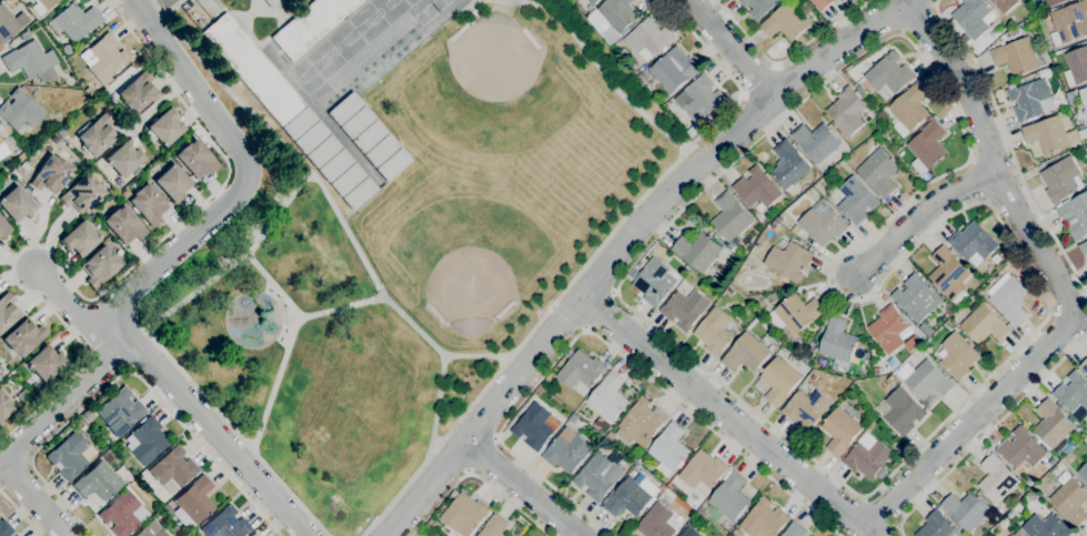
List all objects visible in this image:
building: (592, 1)
park: (412, 2)
building: (1051, 2)
building: (271, 3)
building: (821, 3)
building: (1003, 4)
building: (43, 6)
road: (150, 6)
building: (757, 7)
building: (616, 14)
park: (376, 17)
building: (973, 17)
building: (786, 21)
building: (1010, 21)
building: (76, 22)
building: (1069, 22)
building: (7, 24)
building: (311, 26)
building: (1013, 32)
building: (26, 36)
building: (647, 38)
building: (1086, 40)
road: (728, 47)
road: (835, 48)
park: (335, 50)
building: (976, 50)
building: (1017, 55)
road: (784, 58)
building: (103, 59)
building: (31, 62)
park: (492, 62)
building: (1076, 67)
building: (673, 69)
building: (253, 70)
building: (888, 73)
park: (304, 77)
building: (117, 81)
building: (858, 88)
building: (138, 93)
building: (1084, 97)
building: (698, 98)
building: (1030, 100)
building: (344, 109)
building: (908, 109)
building: (846, 110)
building: (20, 111)
building: (882, 113)
building: (356, 123)
building: (299, 124)
building: (165, 128)
building: (6, 129)
building: (692, 131)
building: (885, 134)
building: (1049, 134)
building: (97, 135)
building: (369, 136)
building: (311, 138)
building: (815, 141)
building: (1, 142)
building: (926, 146)
road: (1009, 146)
building: (2, 150)
building: (381, 151)
building: (323, 152)
building: (124, 160)
building: (197, 160)
building: (788, 164)
building: (393, 165)
building: (335, 166)
building: (844, 166)
building: (822, 169)
building: (878, 172)
building: (50, 175)
road: (661, 175)
road: (245, 176)
building: (1060, 179)
building: (348, 180)
building: (172, 183)
building: (756, 188)
building: (819, 190)
building: (360, 193)
building: (81, 194)
road: (326, 195)
building: (854, 200)
building: (17, 204)
building: (149, 204)
building: (759, 208)
building: (1075, 215)
building: (729, 216)
road: (916, 219)
building: (822, 223)
building: (774, 224)
building: (124, 225)
building: (3, 229)
building: (795, 230)
building: (80, 239)
building: (973, 243)
building: (1083, 247)
building: (733, 249)
building: (696, 251)
building: (667, 253)
building: (995, 257)
building: (1014, 260)
building: (788, 261)
road: (896, 264)
building: (100, 266)
road: (227, 266)
building: (948, 274)
building: (652, 282)
park: (467, 283)
road: (273, 285)
road: (1056, 285)
road: (105, 290)
building: (729, 291)
road: (612, 292)
building: (916, 297)
building: (1008, 297)
road: (551, 305)
road: (595, 307)
building: (684, 307)
road: (570, 309)
building: (949, 309)
building: (8, 312)
road: (74, 312)
building: (794, 314)
road: (567, 316)
building: (958, 316)
building: (984, 324)
building: (948, 325)
road: (583, 327)
building: (926, 327)
building: (890, 331)
building: (713, 332)
building: (24, 338)
road: (601, 338)
building: (837, 342)
building: (813, 343)
road: (288, 344)
park: (311, 351)
building: (747, 353)
building: (957, 355)
building: (890, 362)
building: (46, 364)
road: (104, 366)
building: (1084, 366)
building: (581, 370)
building: (877, 371)
road: (157, 372)
road: (127, 373)
building: (812, 377)
building: (925, 378)
building: (778, 381)
building: (23, 395)
building: (1073, 395)
building: (607, 397)
building: (555, 403)
road: (434, 405)
building: (3, 407)
building: (805, 408)
building: (900, 411)
building: (121, 413)
building: (88, 415)
road: (726, 415)
building: (78, 423)
building: (640, 423)
building: (1051, 424)
building: (601, 425)
building: (535, 426)
building: (839, 431)
road: (985, 433)
road: (236, 434)
building: (610, 436)
building: (1085, 438)
building: (867, 439)
building: (147, 441)
building: (604, 443)
road: (435, 445)
building: (1020, 448)
building: (668, 449)
building: (566, 451)
building: (71, 457)
building: (867, 458)
building: (1049, 462)
building: (1059, 466)
building: (173, 471)
building: (702, 472)
building: (1083, 472)
building: (597, 475)
road: (476, 476)
building: (996, 479)
building: (99, 483)
building: (670, 486)
road: (520, 488)
building: (632, 495)
building: (670, 495)
building: (729, 497)
building: (1069, 499)
road: (31, 502)
building: (160, 502)
building: (193, 504)
building: (167, 509)
building: (966, 509)
building: (1014, 512)
road: (21, 514)
building: (124, 515)
building: (464, 515)
building: (763, 518)
building: (655, 522)
building: (1003, 523)
building: (225, 525)
building: (1045, 525)
building: (493, 526)
building: (937, 526)
building: (4, 528)
building: (151, 530)
building: (793, 530)
building: (254, 534)
building: (1016, 534)
building: (194, 535)
building: (681, 535)
building: (697, 535)

